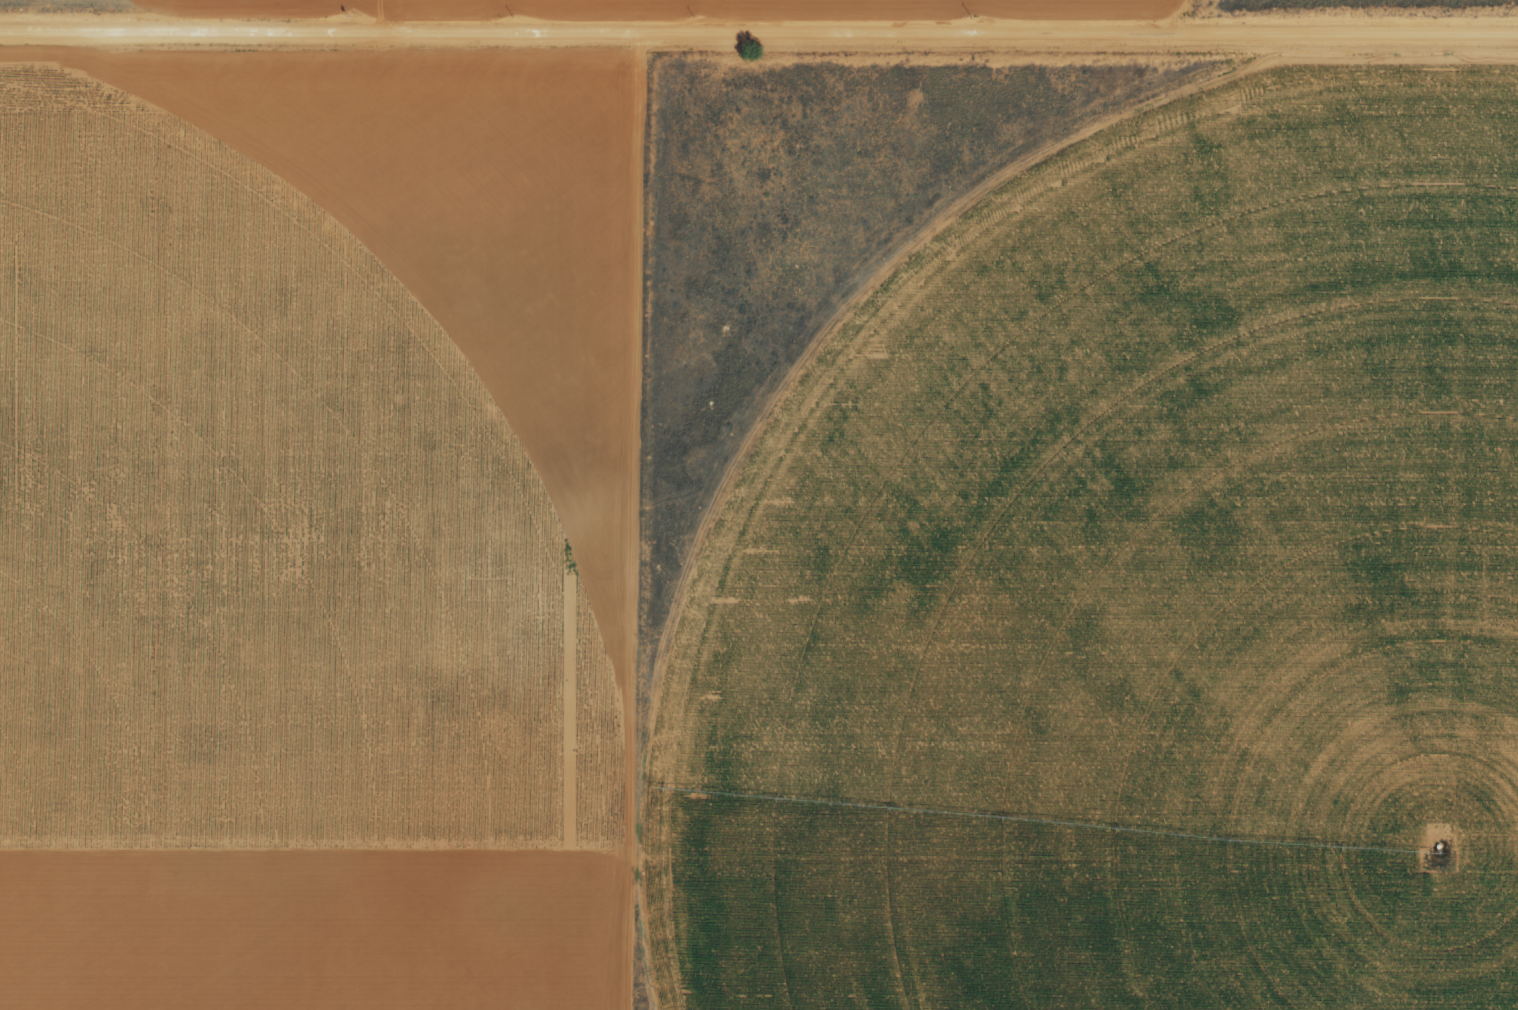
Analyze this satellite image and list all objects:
road: (759, 6)

